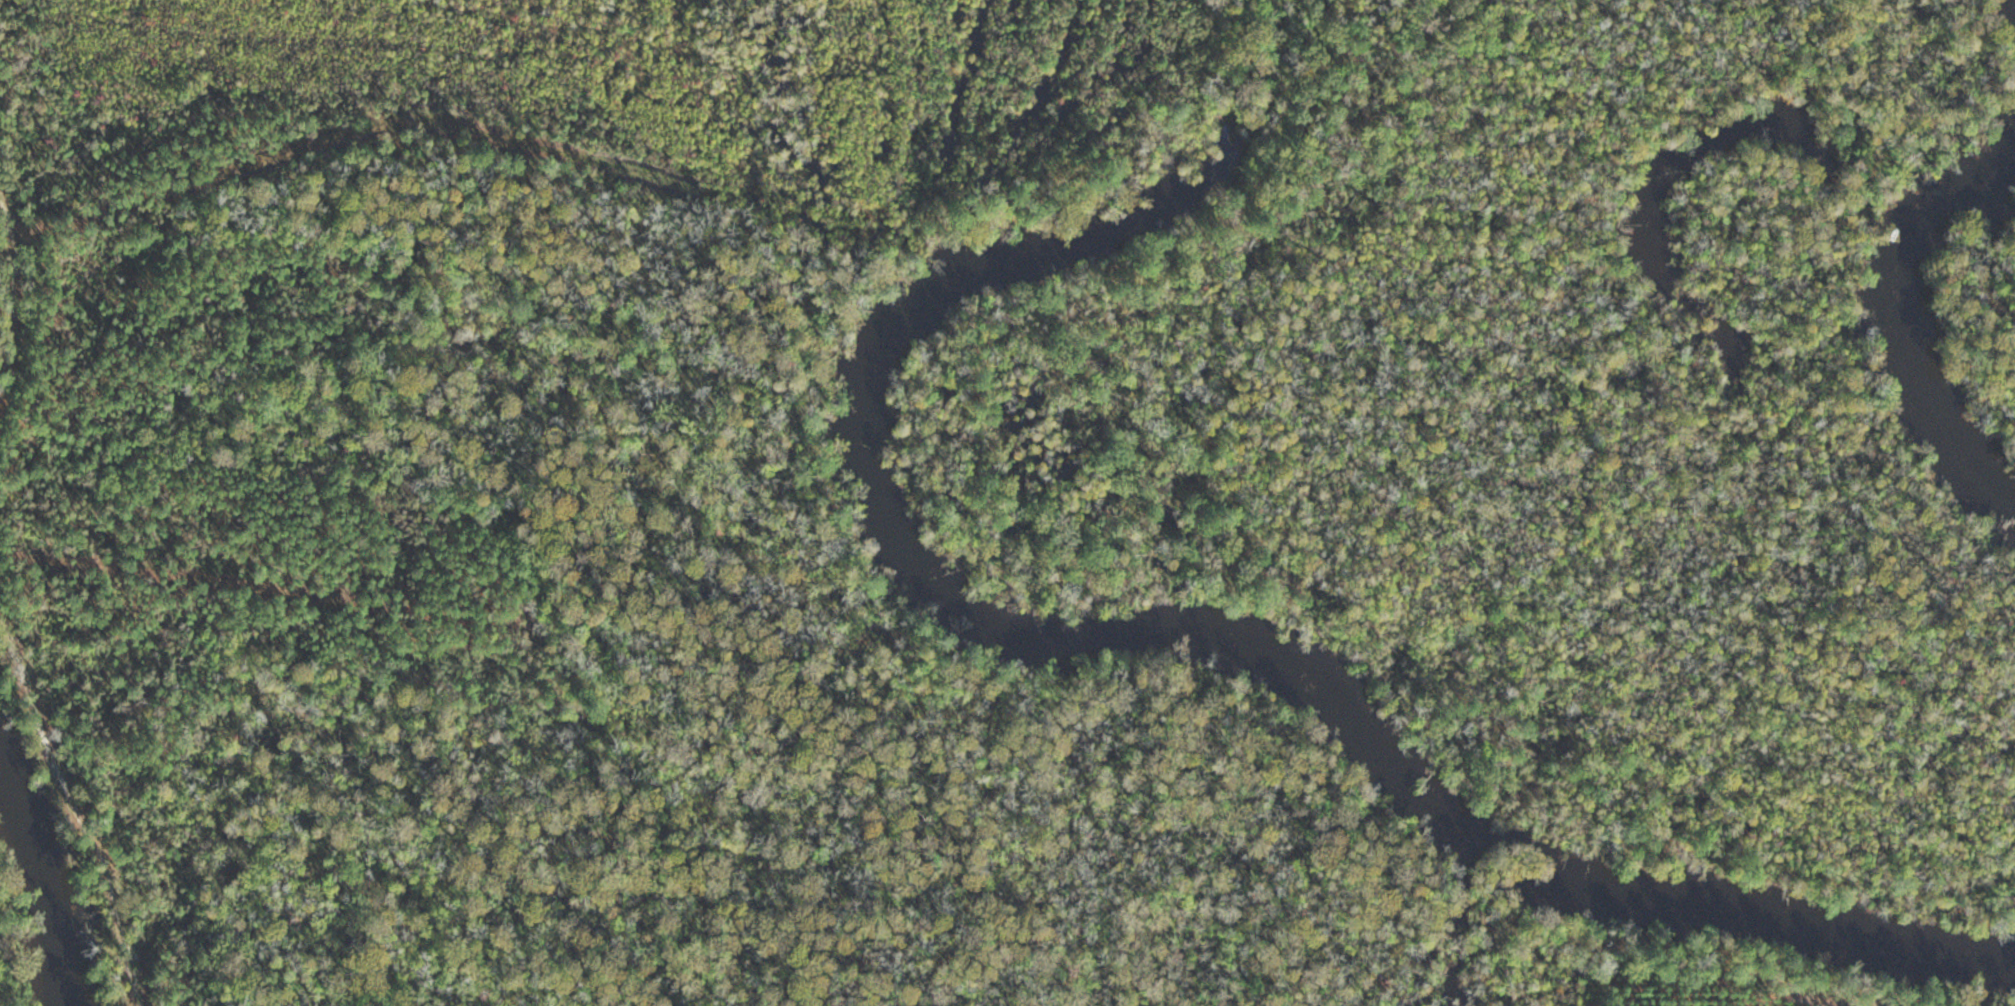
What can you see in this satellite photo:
river: (54, 870)
airport: (9, 963)

